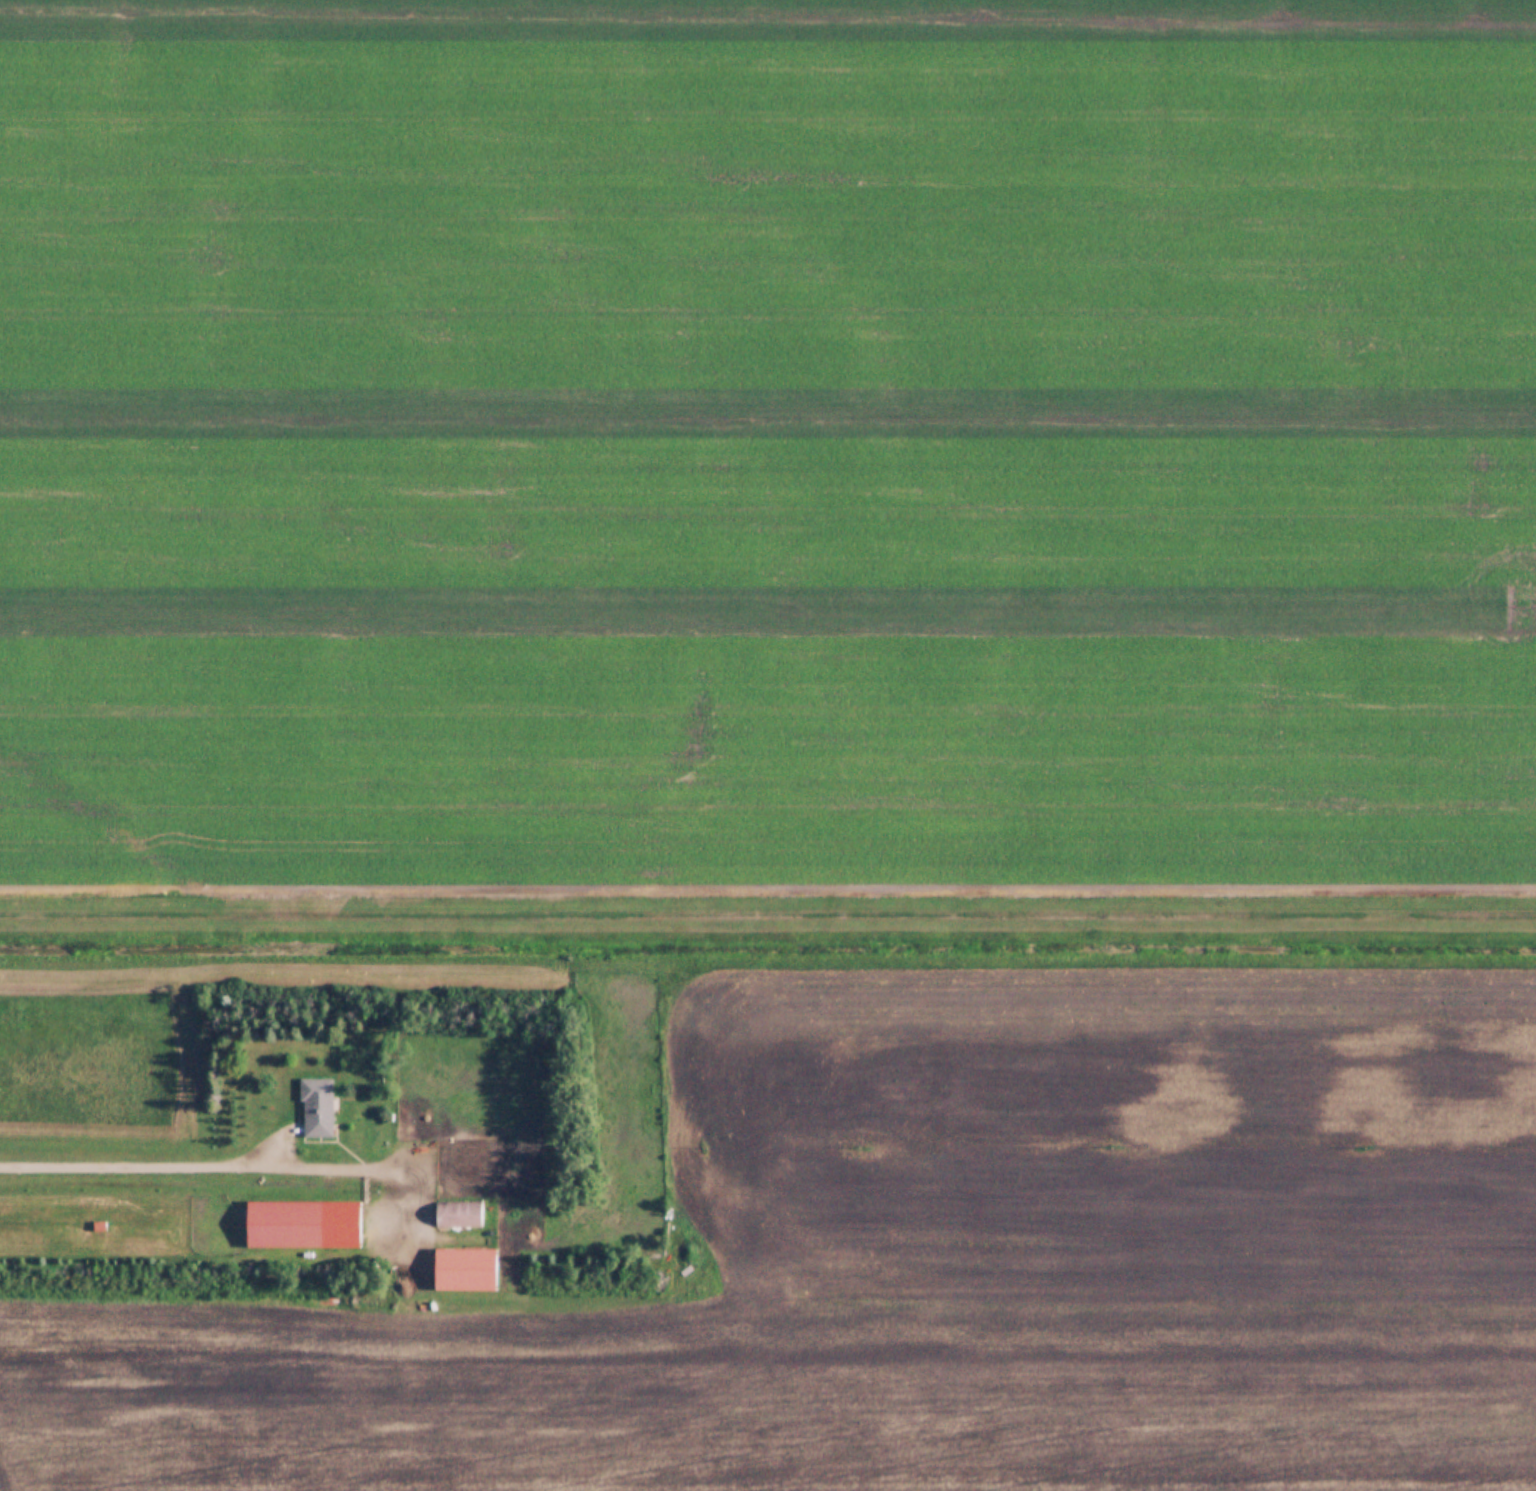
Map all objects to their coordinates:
crop: (774, 90)
crop: (766, 535)
road: (768, 897)
building: (316, 1104)
road: (507, 1159)
road: (189, 1161)
building: (457, 1213)
crop: (940, 1262)
building: (489, 1268)

